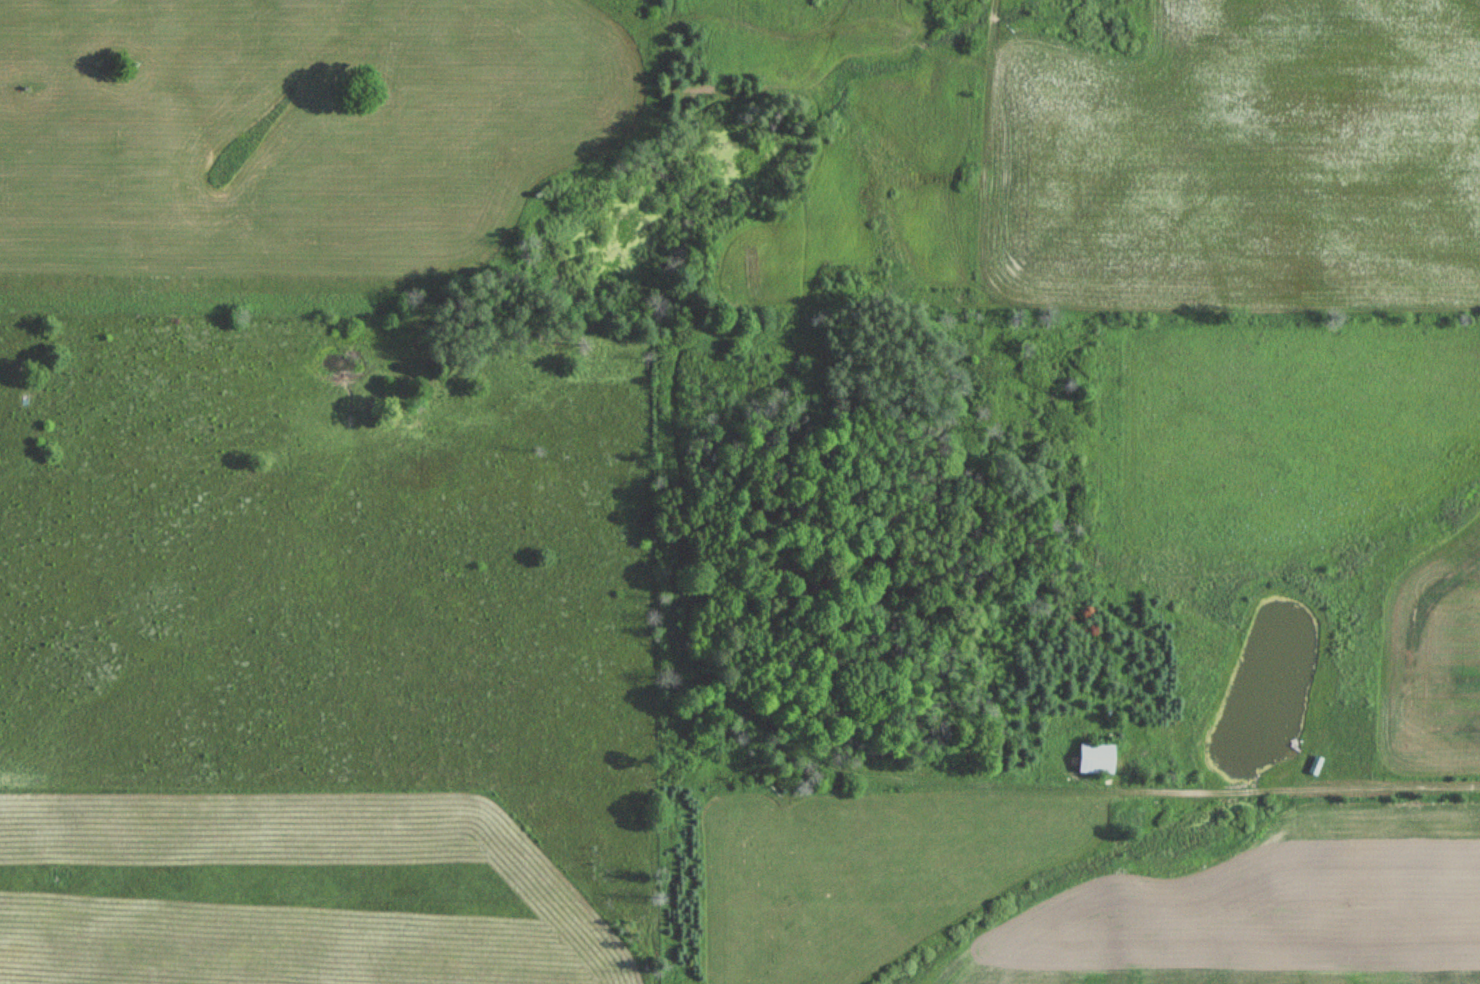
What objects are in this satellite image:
building: (1092, 758)

